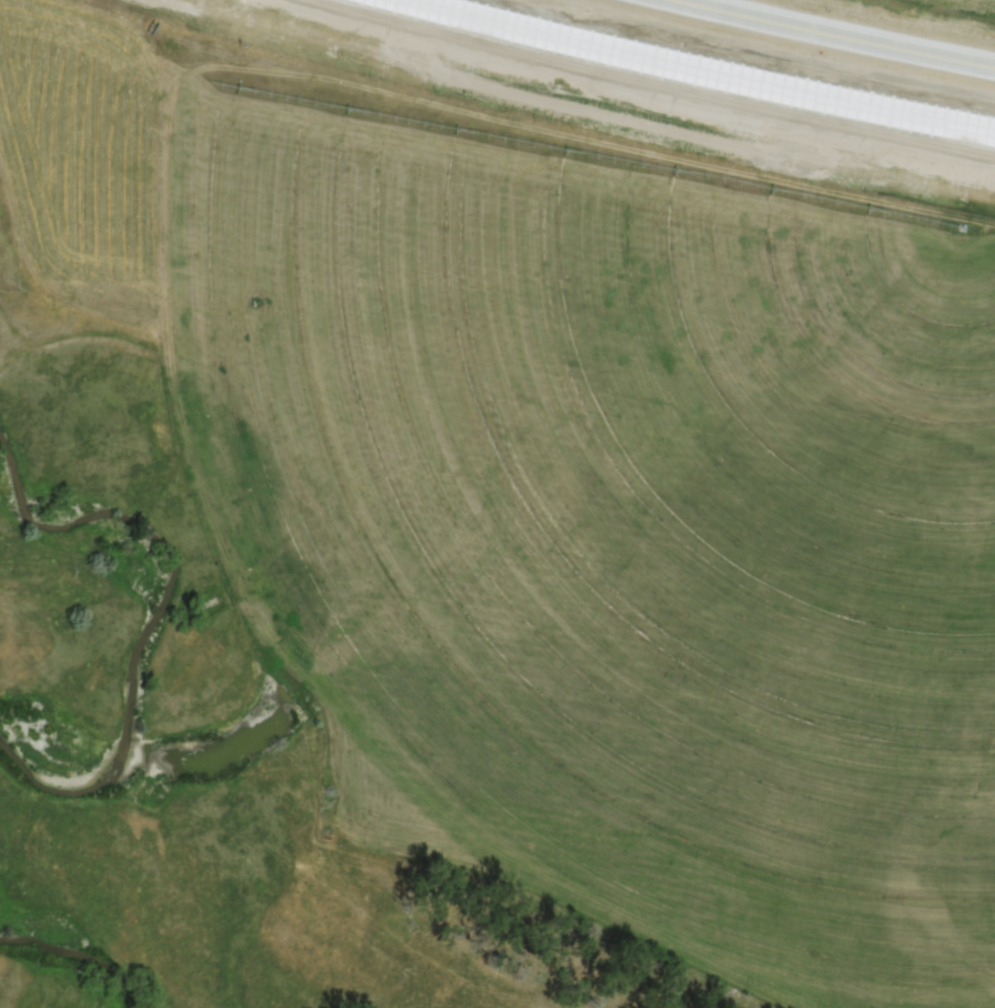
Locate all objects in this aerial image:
road: (831, 33)
road: (706, 69)
crop: (574, 502)

